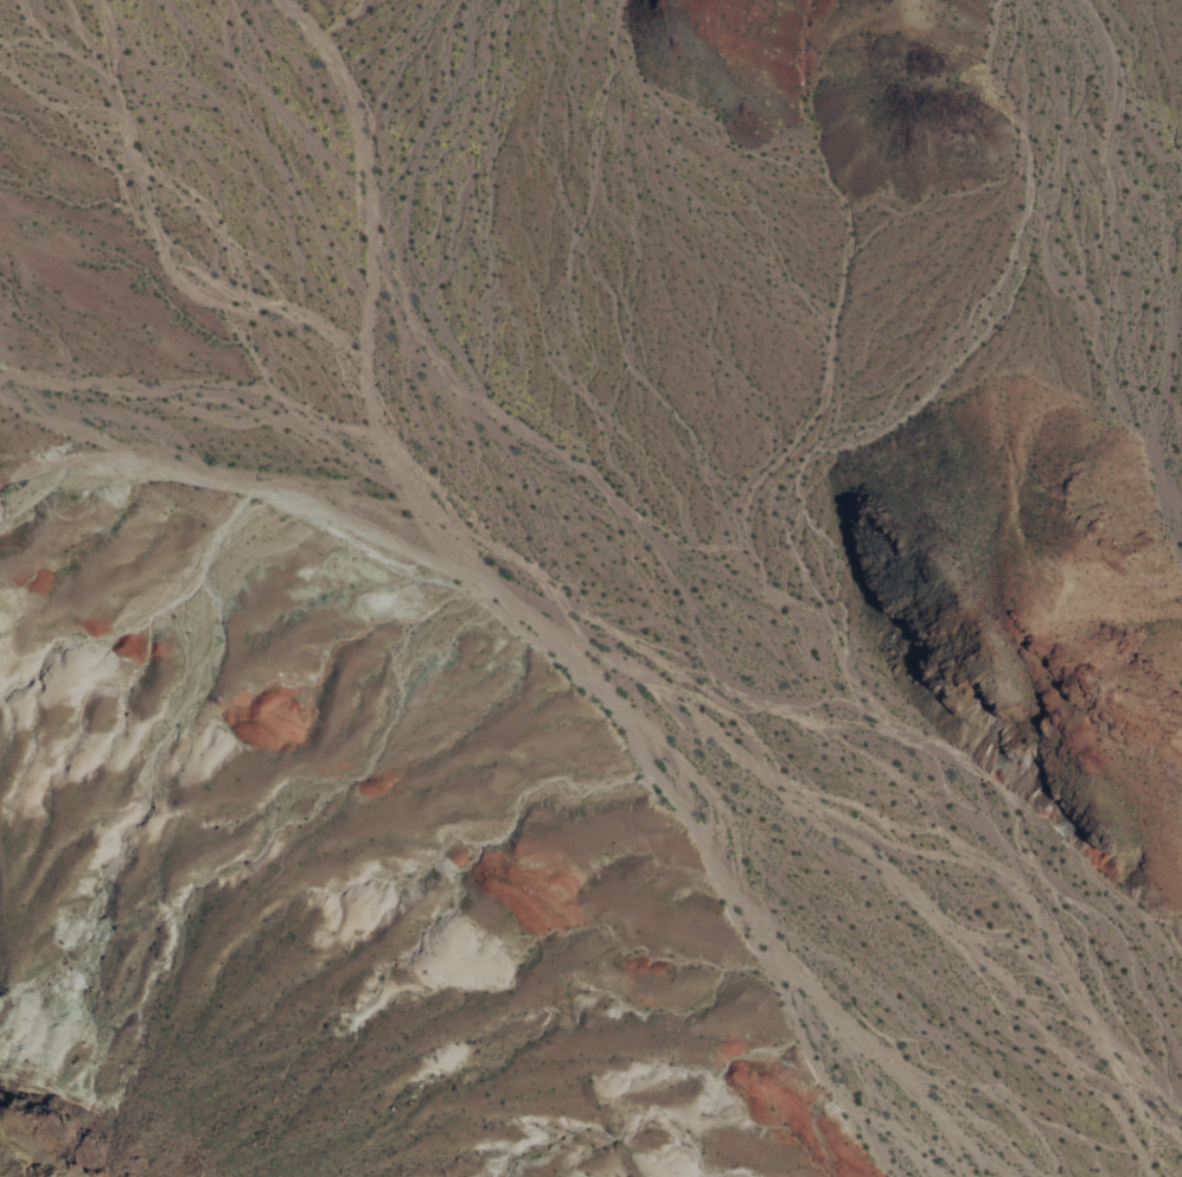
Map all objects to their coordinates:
road: (496, 702)

